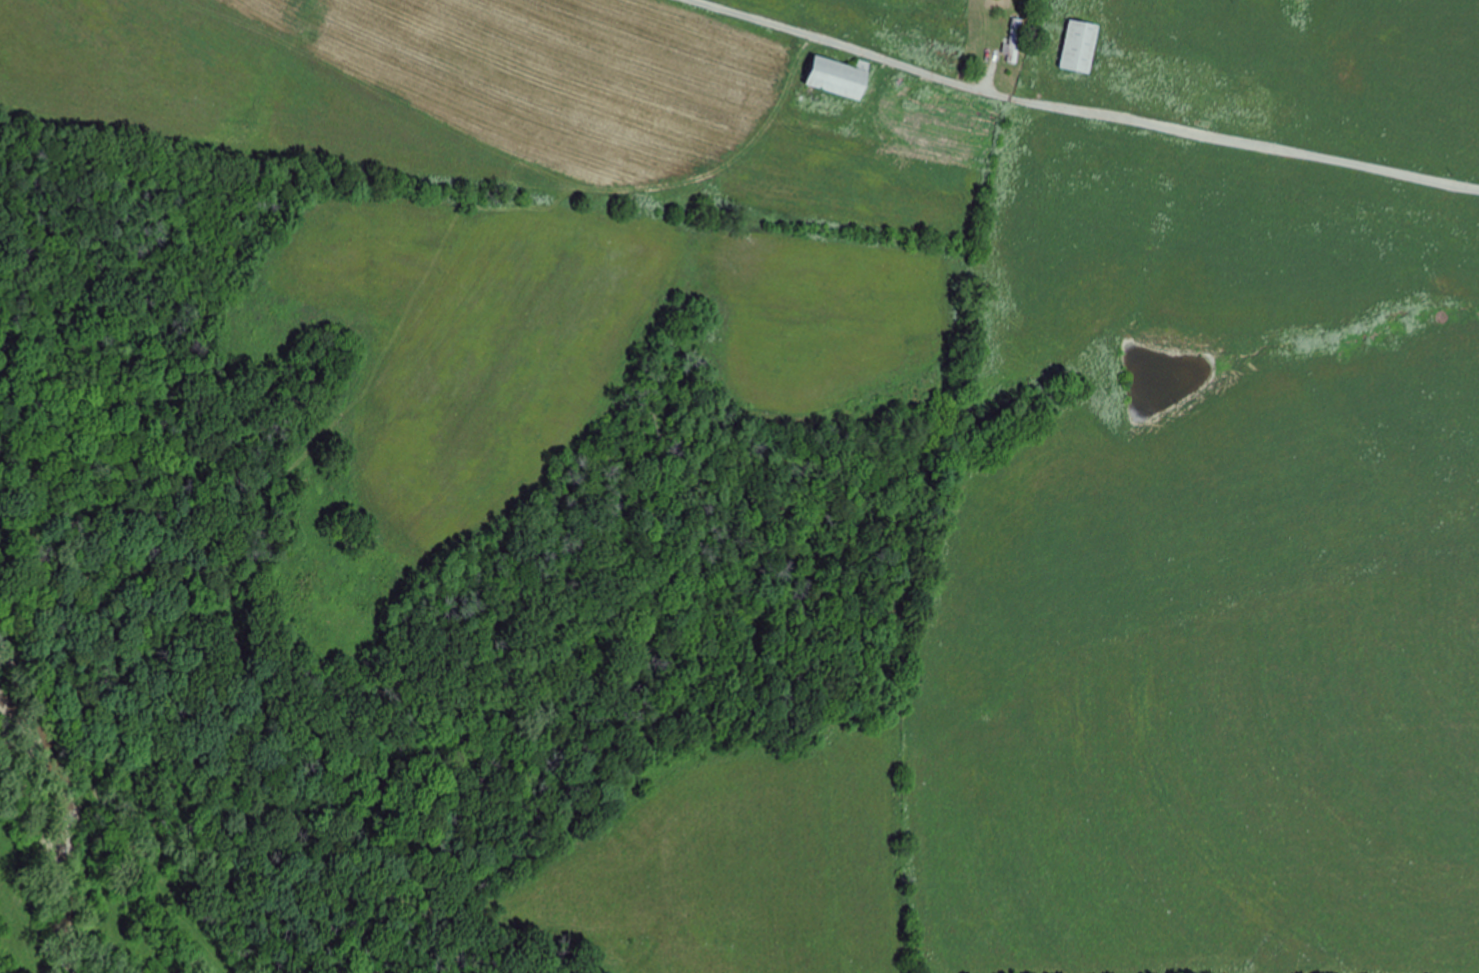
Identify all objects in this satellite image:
road: (963, 34)
building: (1014, 41)
building: (1080, 47)
building: (840, 77)
road: (1091, 105)

